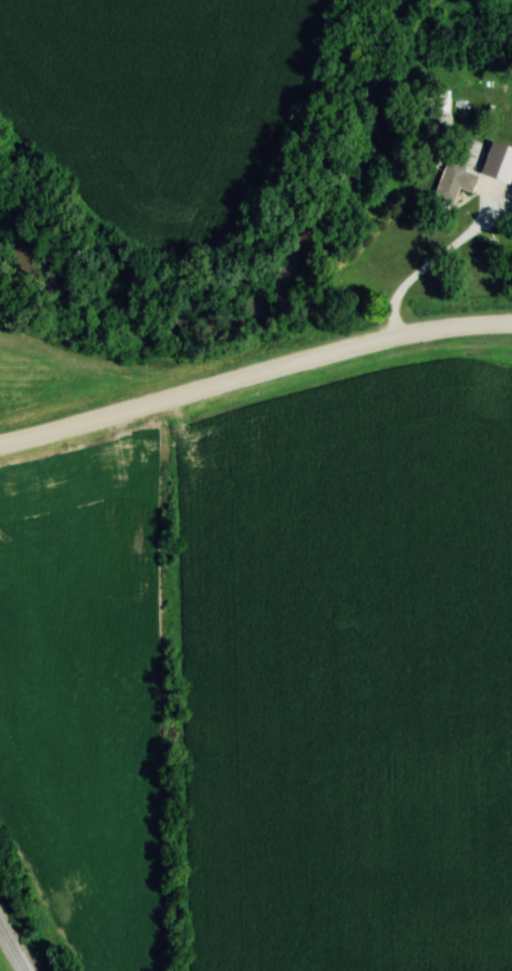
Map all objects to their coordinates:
building: (448, 180)
road: (428, 265)
river: (286, 291)
road: (254, 371)
railway: (12, 949)

